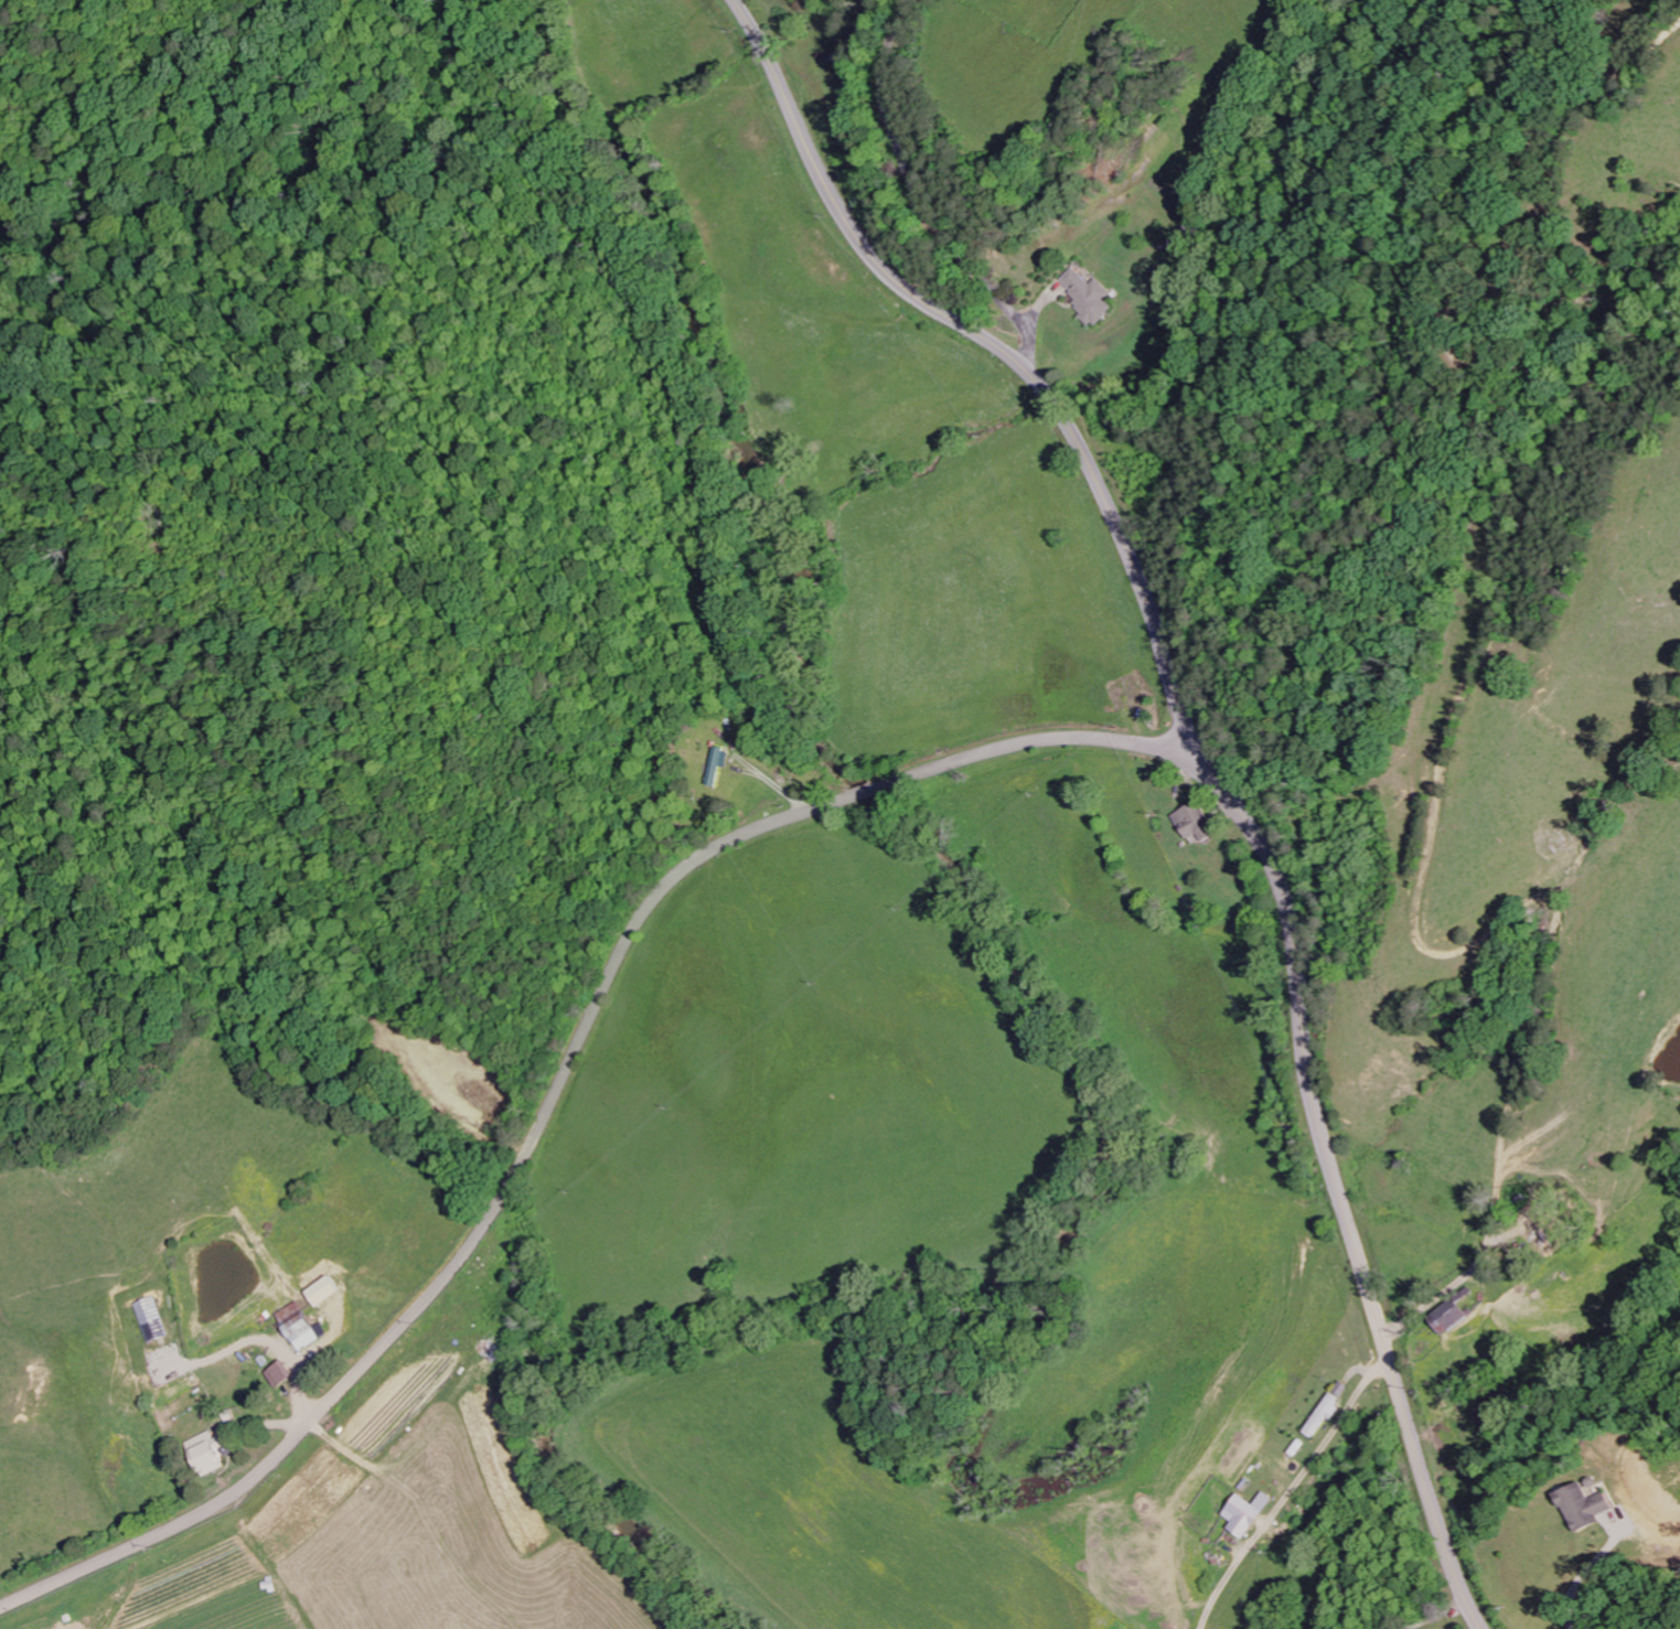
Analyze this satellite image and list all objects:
road: (920, 203)
building: (1091, 297)
road: (1207, 761)
building: (718, 767)
building: (1195, 823)
road: (561, 1078)
building: (1452, 1316)
building: (301, 1327)
building: (280, 1374)
building: (1326, 1413)
building: (210, 1454)
building: (1587, 1507)
building: (1249, 1513)
park: (1420, 1618)

